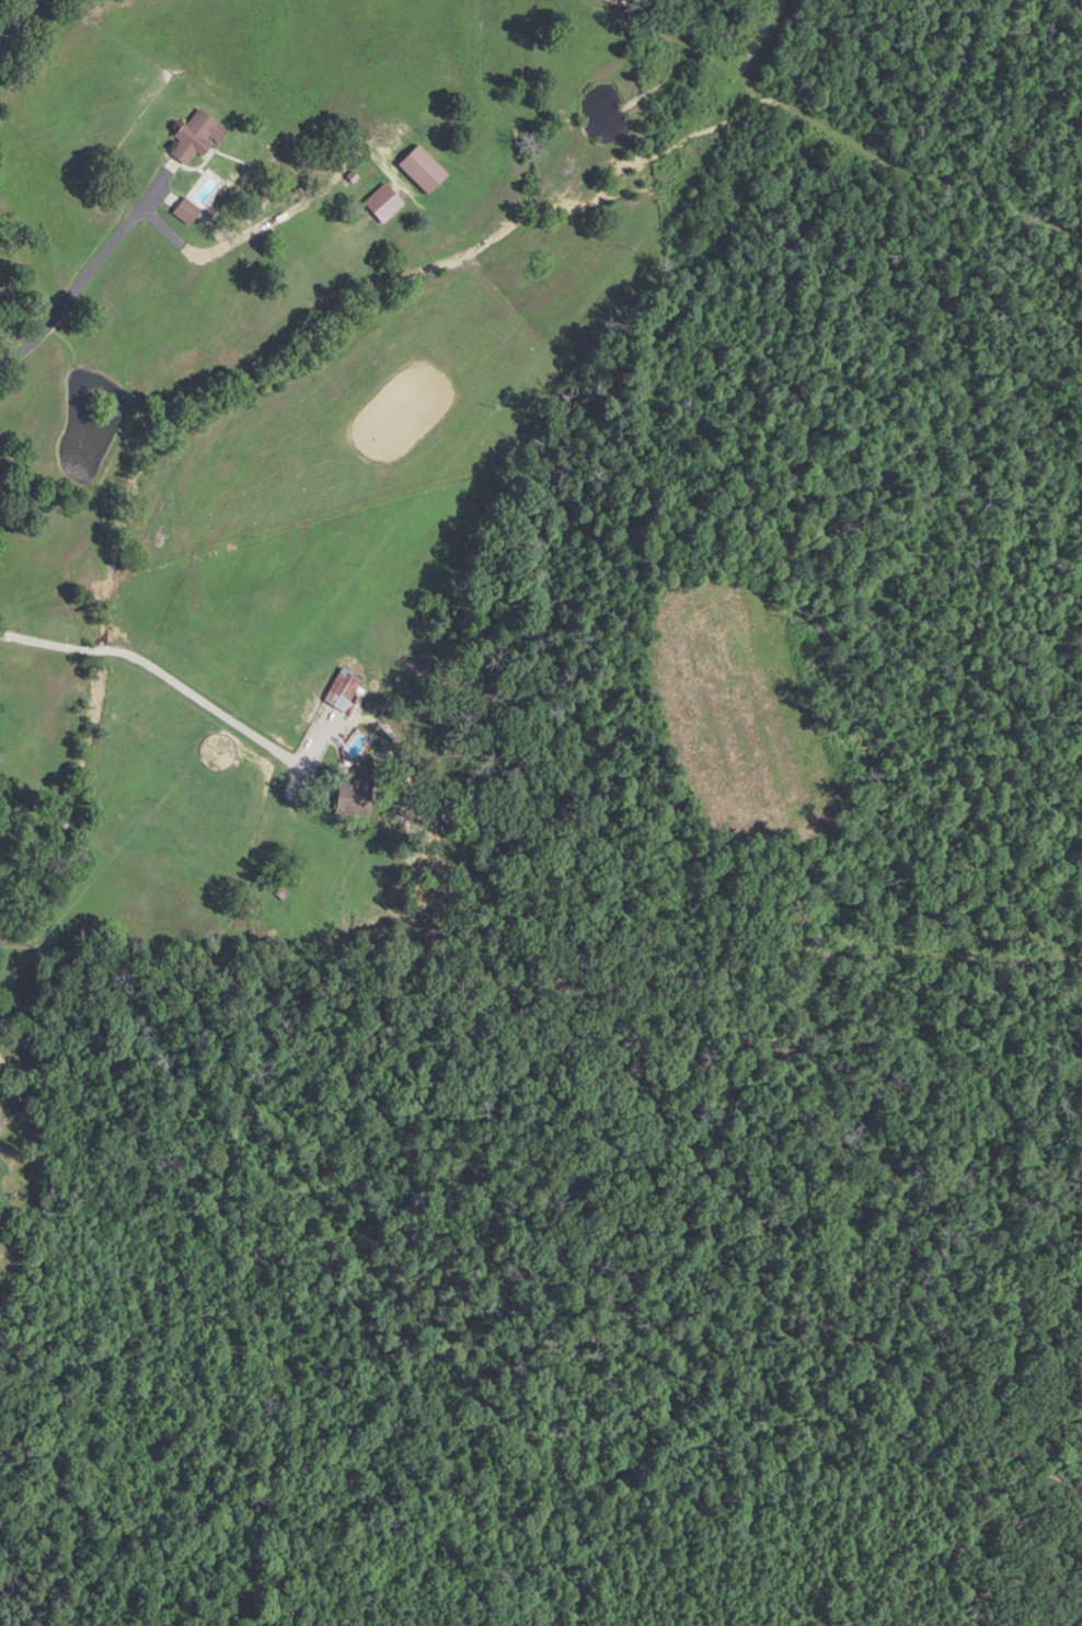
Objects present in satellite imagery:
road: (15, 25)
road: (839, 135)
building: (195, 136)
building: (203, 187)
building: (382, 203)
building: (185, 210)
road: (255, 230)
road: (90, 270)
building: (339, 689)
road: (200, 701)
building: (355, 787)

